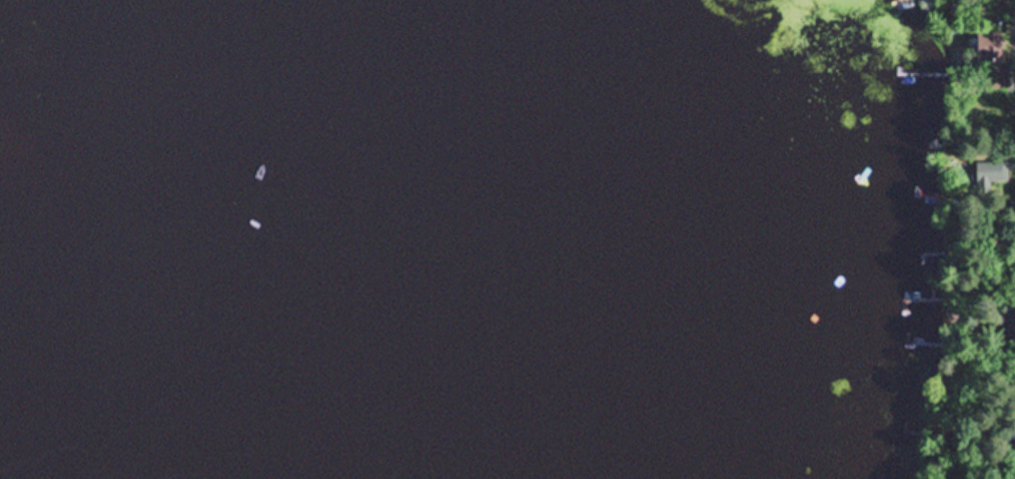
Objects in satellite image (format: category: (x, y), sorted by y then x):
building: (992, 64)
road: (1012, 147)
building: (986, 177)

